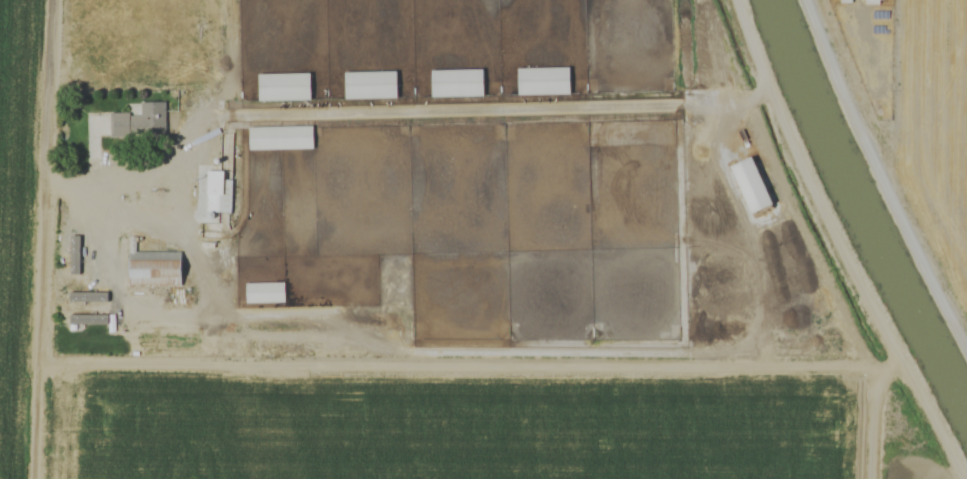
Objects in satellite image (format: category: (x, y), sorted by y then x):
building: (848, 1)
building: (874, 1)
road: (47, 59)
building: (548, 81)
building: (461, 82)
building: (375, 84)
building: (288, 86)
building: (143, 121)
building: (284, 137)
road: (879, 174)
building: (758, 184)
building: (222, 192)
building: (160, 272)
building: (268, 292)
building: (91, 319)
crop: (409, 360)

